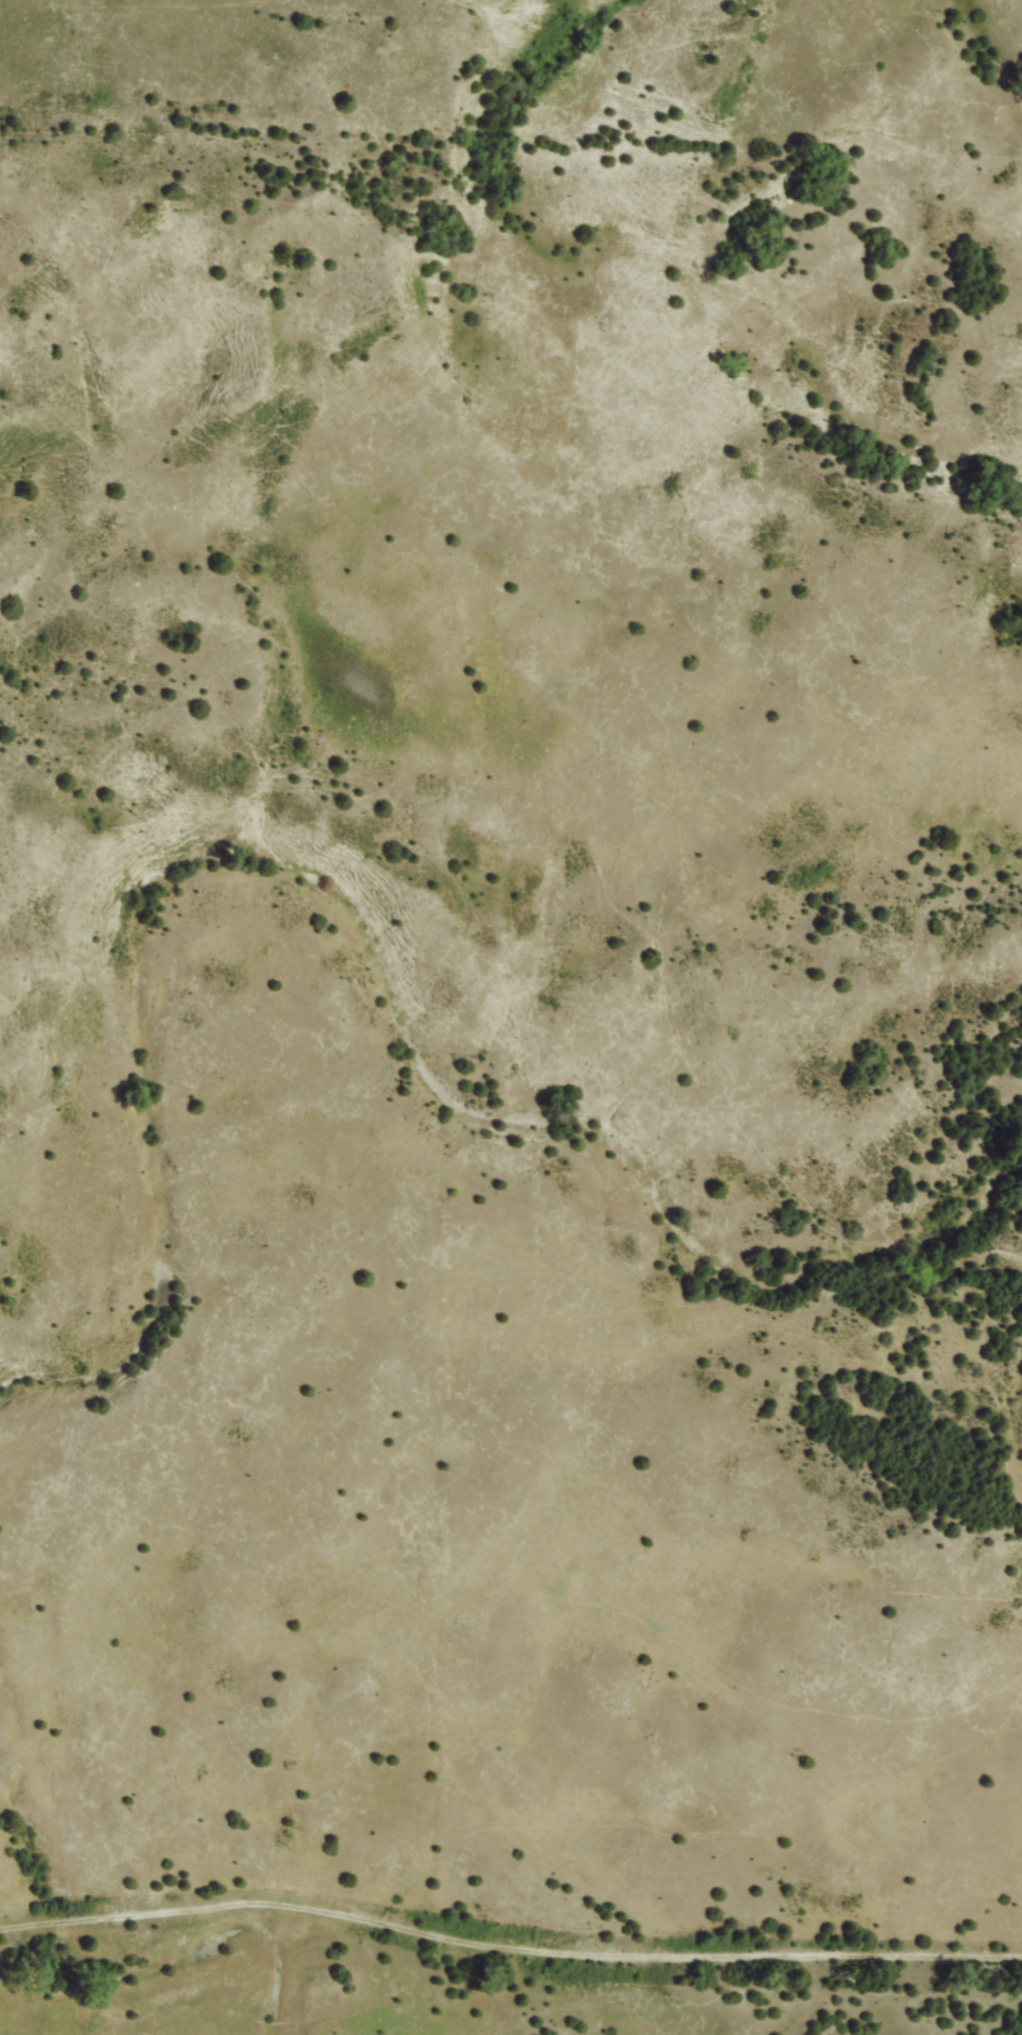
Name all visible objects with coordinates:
road: (508, 1949)

